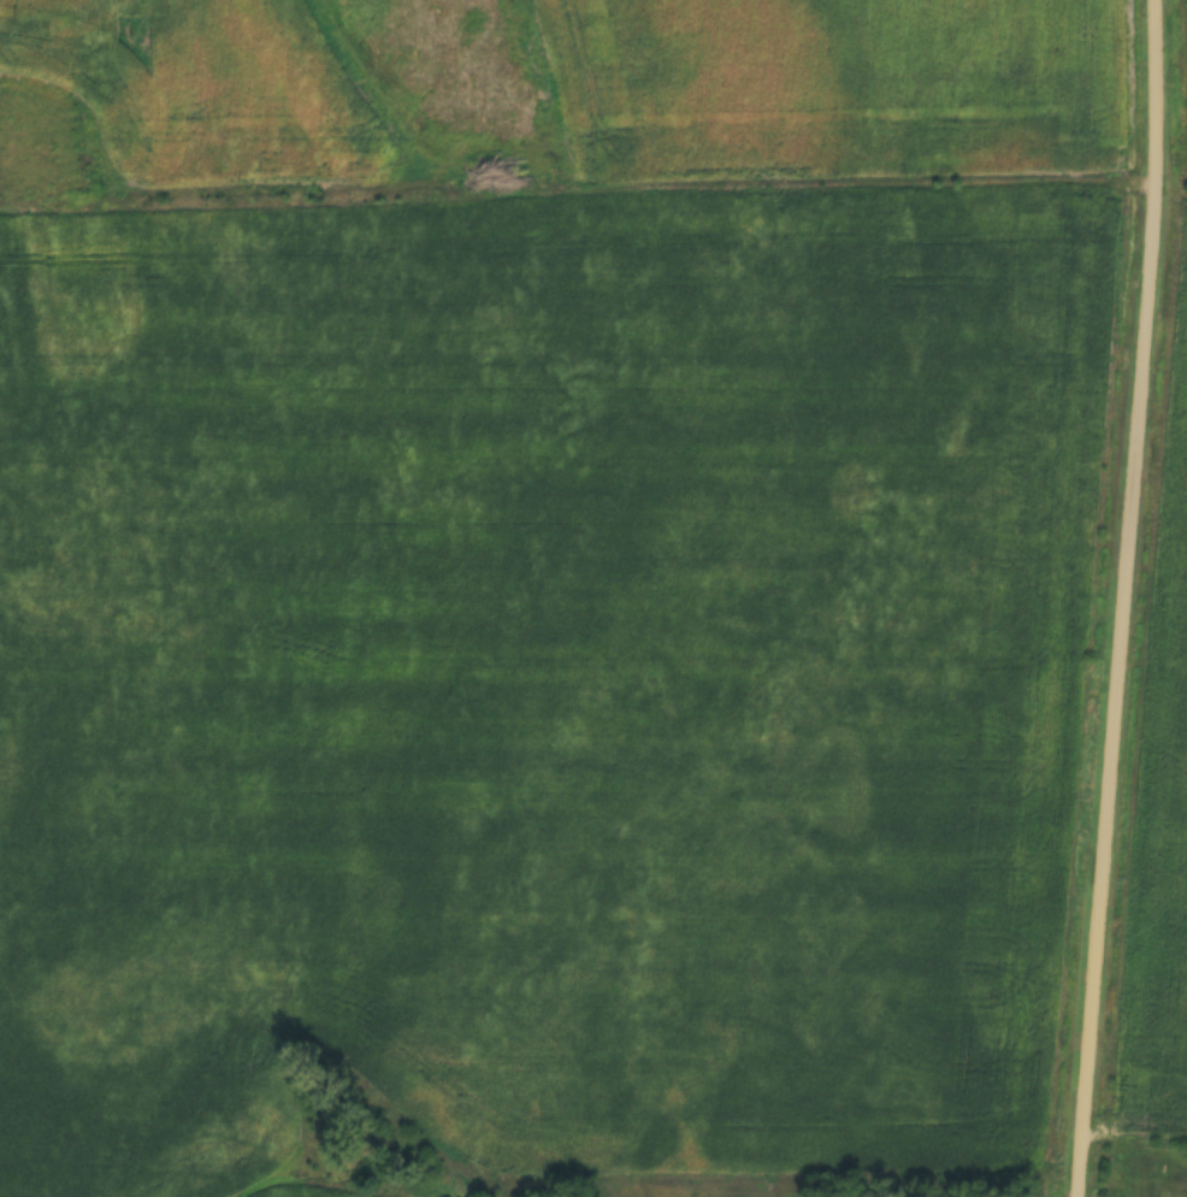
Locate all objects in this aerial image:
road: (1122, 598)

